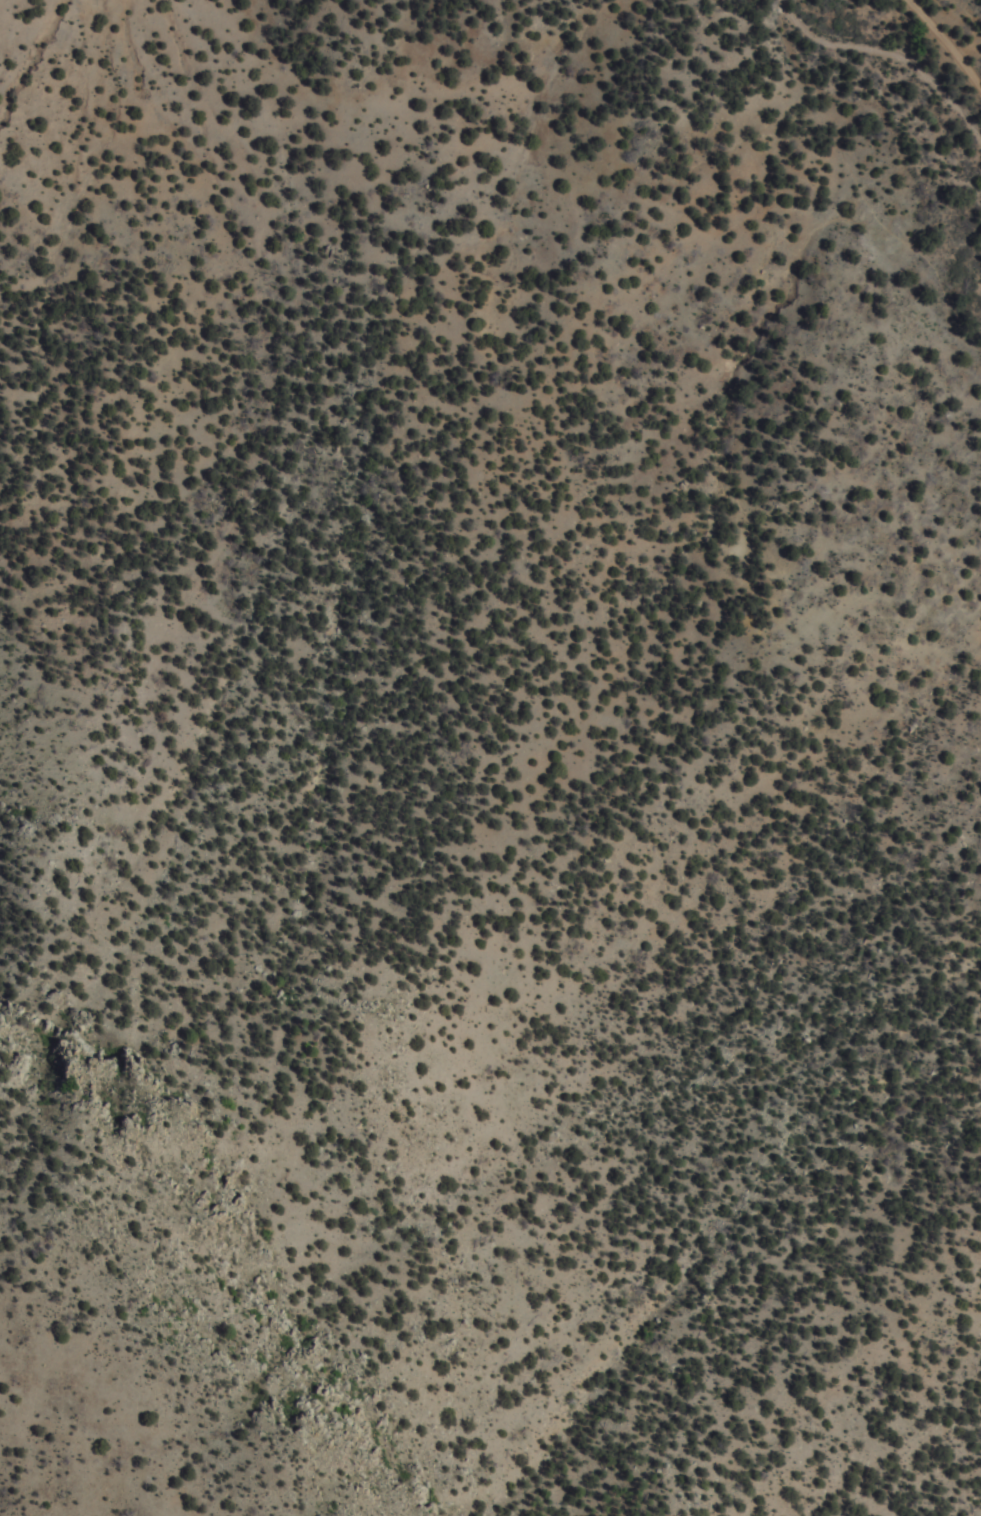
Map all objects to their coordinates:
road: (947, 41)

